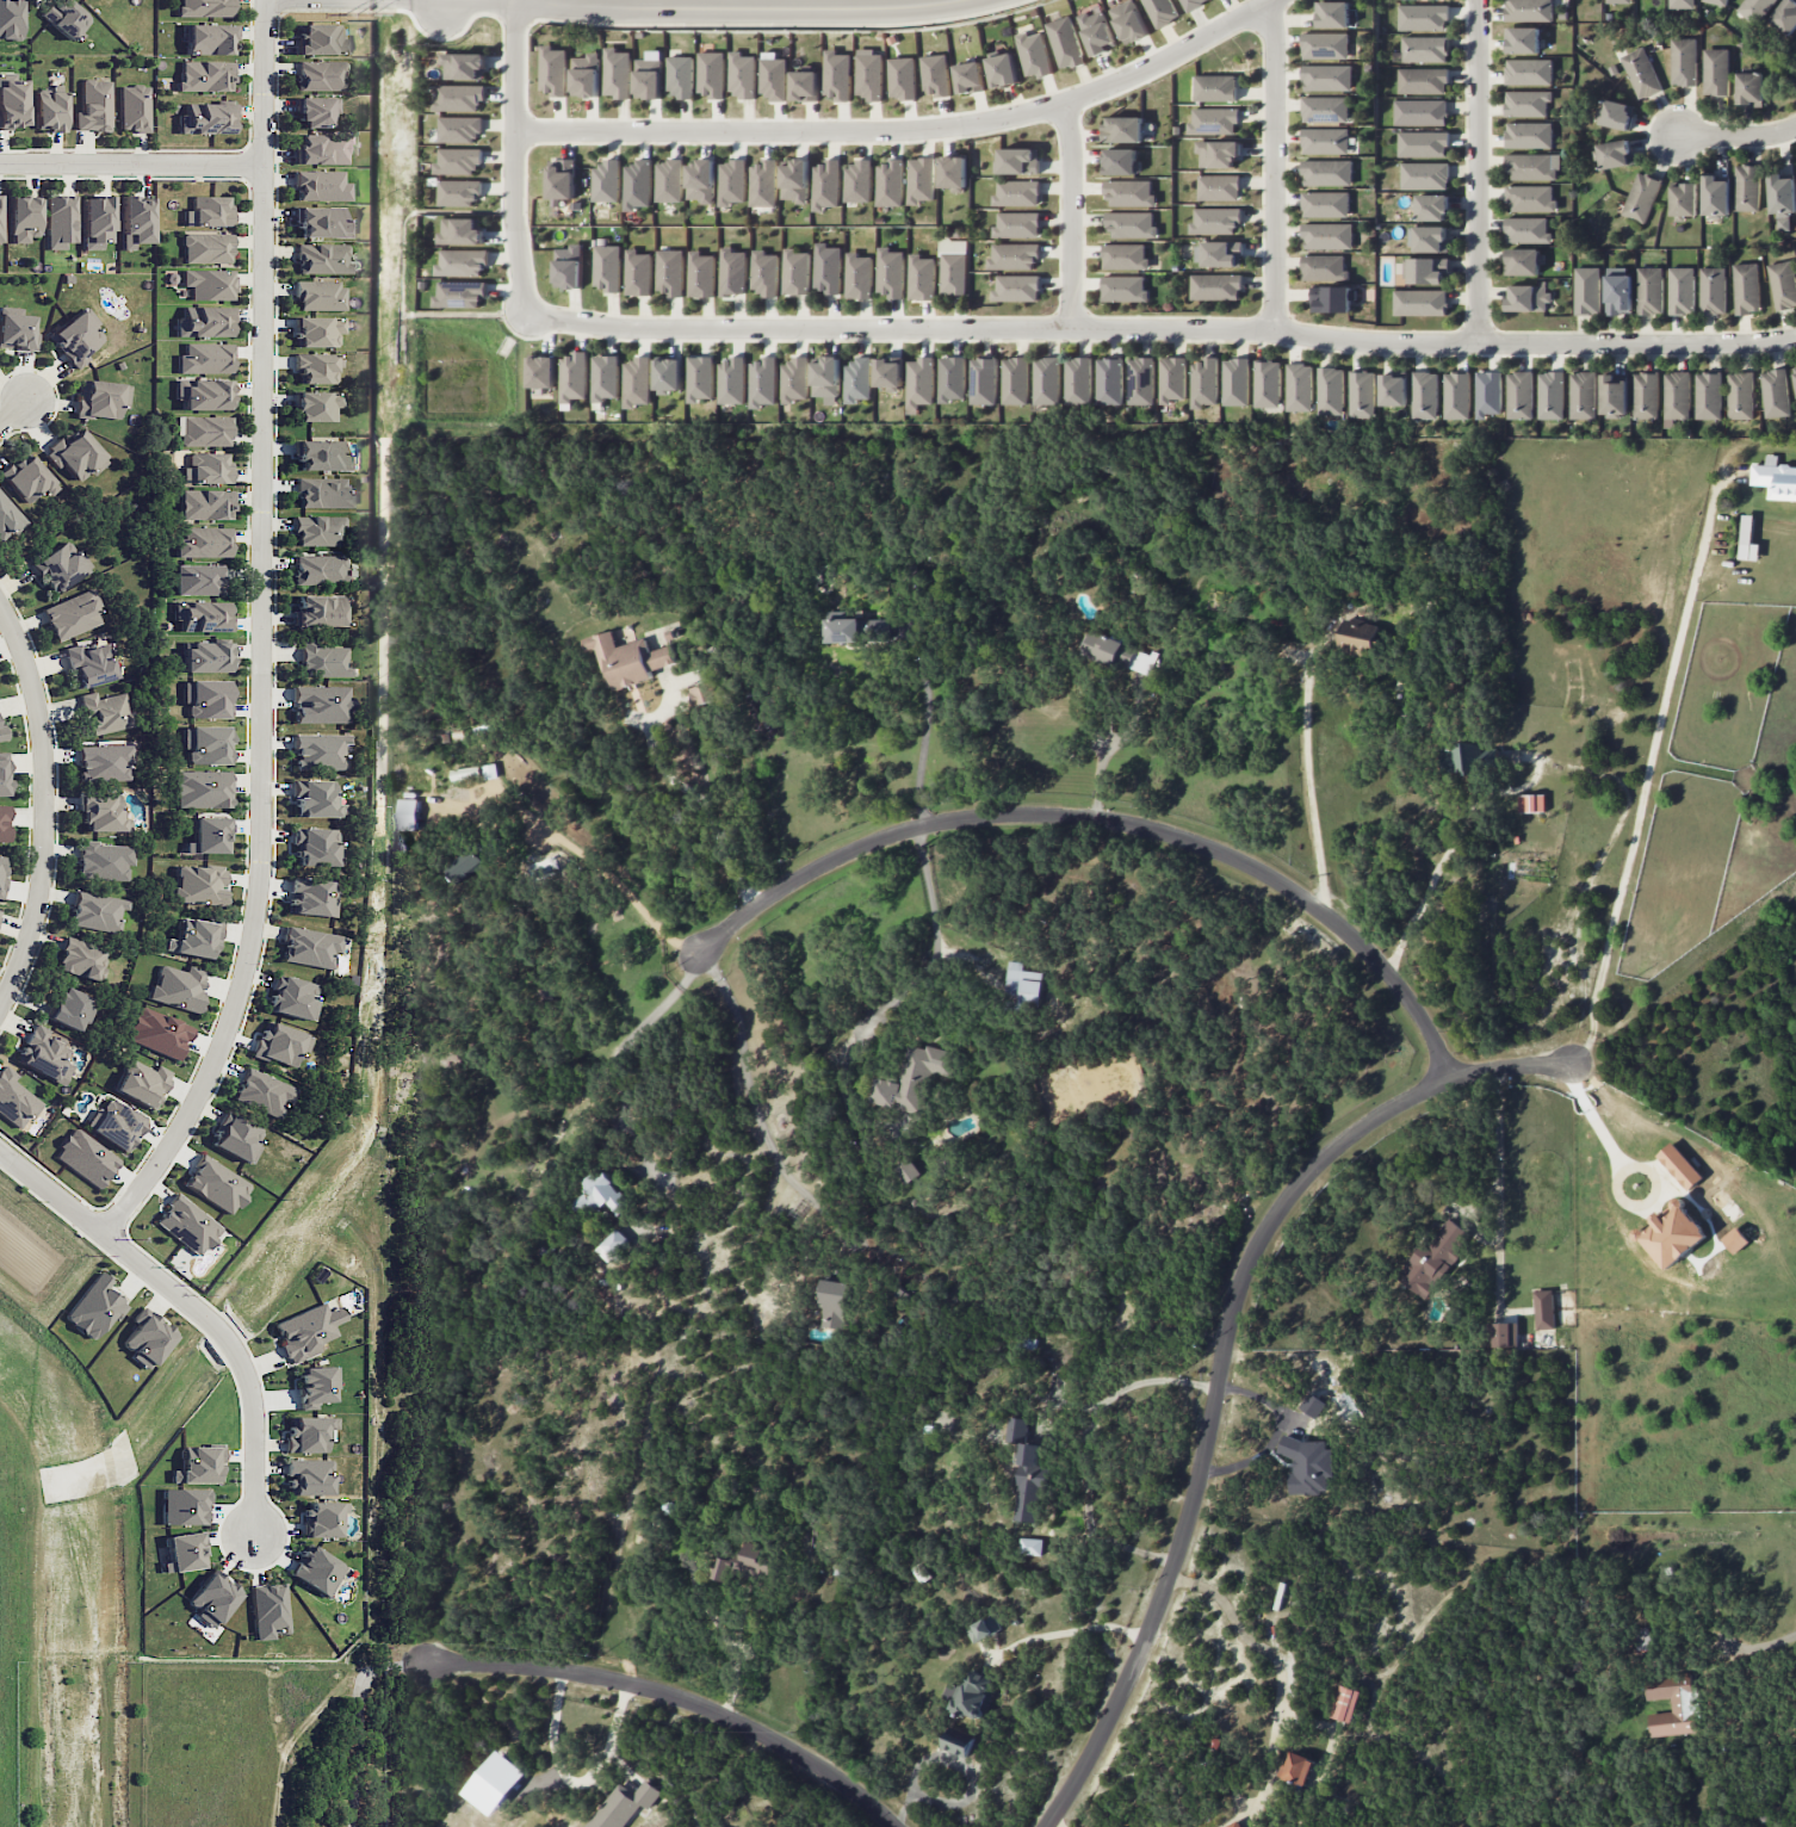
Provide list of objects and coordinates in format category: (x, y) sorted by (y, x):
building: (1618, 1)
building: (1717, 1)
building: (1193, 4)
building: (1682, 4)
road: (755, 5)
road: (438, 6)
building: (204, 7)
building: (1529, 10)
building: (1754, 10)
building: (1160, 12)
building: (1333, 13)
building: (1423, 17)
building: (1785, 17)
building: (67, 18)
building: (10, 19)
building: (1128, 21)
building: (1096, 32)
building: (206, 38)
building: (320, 39)
building: (1522, 39)
building: (1065, 42)
building: (1326, 45)
building: (1424, 49)
building: (1033, 54)
building: (1683, 61)
building: (464, 66)
building: (1002, 69)
building: (552, 70)
building: (1529, 72)
building: (1716, 72)
building: (617, 73)
building: (1641, 73)
building: (711, 74)
building: (742, 74)
building: (868, 74)
building: (935, 74)
building: (204, 75)
building: (321, 75)
building: (584, 75)
building: (648, 75)
building: (836, 75)
building: (679, 76)
building: (774, 76)
building: (970, 76)
building: (902, 78)
building: (1327, 78)
building: (1423, 80)
building: (805, 85)
building: (1215, 87)
building: (1749, 88)
building: (459, 97)
building: (11, 100)
building: (1526, 103)
building: (93, 105)
building: (134, 107)
building: (1325, 109)
building: (49, 110)
building: (315, 111)
building: (1420, 112)
building: (1617, 114)
building: (205, 118)
building: (1214, 120)
building: (459, 129)
building: (1123, 129)
road: (909, 130)
building: (1529, 135)
road: (1738, 136)
building: (1325, 141)
building: (1423, 143)
building: (322, 149)
building: (1614, 154)
road: (513, 156)
building: (458, 160)
building: (1017, 161)
building: (1121, 161)
road: (131, 165)
building: (1532, 166)
road: (1274, 167)
building: (1327, 172)
road: (1478, 172)
building: (953, 173)
building: (1425, 175)
building: (669, 180)
building: (701, 180)
building: (795, 180)
building: (922, 180)
building: (607, 181)
building: (732, 181)
building: (859, 181)
building: (764, 182)
building: (891, 182)
building: (638, 184)
building: (321, 185)
building: (826, 185)
building: (563, 187)
building: (1219, 187)
building: (1746, 187)
building: (459, 192)
building: (1017, 193)
building: (1129, 193)
building: (1641, 197)
building: (1530, 198)
building: (1783, 199)
building: (1684, 200)
building: (1325, 204)
building: (1431, 206)
building: (208, 212)
road: (1070, 216)
building: (0, 217)
building: (23, 218)
building: (58, 221)
building: (95, 221)
building: (135, 221)
building: (1215, 221)
building: (322, 222)
building: (1017, 224)
building: (1131, 224)
building: (1526, 230)
building: (460, 231)
building: (1327, 235)
building: (1429, 239)
building: (206, 248)
building: (1219, 253)
building: (1014, 255)
building: (1125, 256)
building: (323, 259)
building: (1522, 261)
building: (463, 262)
building: (568, 266)
building: (953, 266)
building: (607, 267)
building: (1324, 267)
building: (826, 268)
building: (1425, 270)
building: (669, 272)
building: (732, 272)
building: (795, 272)
building: (890, 272)
building: (638, 273)
building: (763, 273)
building: (700, 274)
building: (857, 275)
building: (921, 277)
building: (206, 284)
building: (1783, 284)
building: (1215, 286)
building: (1017, 287)
building: (1746, 287)
building: (1125, 289)
building: (1587, 290)
building: (1649, 290)
building: (1682, 290)
building: (1713, 290)
building: (460, 293)
building: (1618, 295)
building: (320, 296)
building: (1528, 297)
building: (1331, 298)
building: (1419, 302)
building: (203, 322)
building: (16, 329)
road: (1160, 329)
building: (316, 330)
building: (75, 337)
building: (204, 358)
building: (315, 367)
building: (543, 371)
building: (1795, 372)
building: (888, 373)
building: (669, 374)
building: (574, 377)
building: (605, 377)
building: (700, 378)
building: (952, 378)
building: (794, 379)
building: (826, 379)
building: (857, 379)
building: (1172, 379)
building: (732, 380)
building: (763, 380)
building: (984, 380)
building: (1015, 380)
building: (1046, 380)
building: (1078, 380)
building: (1141, 380)
building: (637, 382)
building: (921, 382)
building: (1109, 382)
building: (1235, 382)
building: (1203, 383)
building: (1268, 384)
building: (1299, 386)
building: (1331, 390)
building: (1393, 390)
building: (1487, 392)
building: (1775, 392)
building: (202, 394)
building: (1362, 394)
building: (1425, 395)
building: (1456, 395)
building: (1519, 395)
building: (1550, 395)
building: (1583, 395)
building: (1614, 395)
building: (1646, 395)
building: (1677, 395)
building: (1709, 395)
building: (1740, 395)
building: (100, 398)
building: (316, 405)
road: (14, 413)
building: (203, 431)
building: (75, 454)
building: (321, 456)
building: (205, 469)
building: (27, 478)
building: (1776, 478)
building: (322, 493)
building: (205, 504)
building: (8, 519)
building: (320, 531)
building: (1747, 539)
building: (203, 541)
building: (57, 566)
building: (318, 569)
building: (199, 578)
building: (317, 611)
building: (70, 614)
building: (200, 615)
building: (842, 630)
road: (261, 637)
building: (1358, 637)
building: (1119, 652)
building: (205, 656)
building: (627, 659)
building: (322, 661)
building: (88, 664)
building: (702, 694)
building: (205, 698)
building: (321, 704)
building: (105, 712)
road: (921, 727)
building: (1, 733)
building: (205, 744)
building: (318, 751)
building: (1472, 757)
building: (104, 762)
road: (1646, 768)
road: (1307, 769)
building: (465, 773)
building: (4, 774)
building: (200, 788)
road: (690, 794)
building: (315, 799)
building: (1531, 803)
road: (47, 807)
building: (101, 815)
building: (408, 815)
road: (1108, 819)
building: (4, 823)
building: (208, 835)
road: (1451, 840)
building: (315, 847)
building: (104, 861)
building: (467, 865)
building: (1, 867)
road: (601, 869)
building: (198, 885)
building: (311, 897)
building: (95, 911)
building: (193, 937)
road: (933, 939)
building: (309, 947)
building: (81, 959)
building: (1023, 984)
building: (176, 986)
building: (292, 998)
building: (70, 1008)
building: (157, 1033)
building: (280, 1043)
road: (618, 1053)
building: (44, 1054)
building: (915, 1078)
building: (142, 1083)
building: (262, 1092)
road: (748, 1094)
building: (14, 1100)
building: (114, 1125)
building: (235, 1139)
building: (85, 1158)
building: (1679, 1165)
building: (908, 1170)
building: (216, 1184)
building: (601, 1194)
road: (1495, 1200)
building: (187, 1225)
building: (1673, 1234)
building: (613, 1245)
building: (1432, 1258)
building: (834, 1303)
road: (197, 1306)
building: (94, 1307)
building: (1544, 1308)
building: (306, 1331)
building: (1503, 1334)
building: (147, 1338)
road: (1220, 1360)
building: (316, 1385)
building: (1312, 1405)
building: (1017, 1429)
building: (308, 1433)
road: (1084, 1453)
building: (198, 1464)
building: (1308, 1464)
building: (308, 1476)
building: (1030, 1484)
building: (182, 1506)
building: (323, 1518)
building: (1032, 1546)
building: (182, 1552)
building: (755, 1565)
building: (724, 1568)
building: (316, 1571)
building: (212, 1598)
building: (268, 1610)
building: (984, 1628)
road: (1065, 1631)
building: (1642, 1639)
road: (1753, 1645)
road: (1277, 1684)
building: (971, 1695)
road: (679, 1698)
building: (1345, 1703)
building: (1673, 1704)
road: (358, 1718)
building: (955, 1748)
building: (1296, 1767)
road: (571, 1782)
building: (624, 1804)
building: (1234, 1825)

